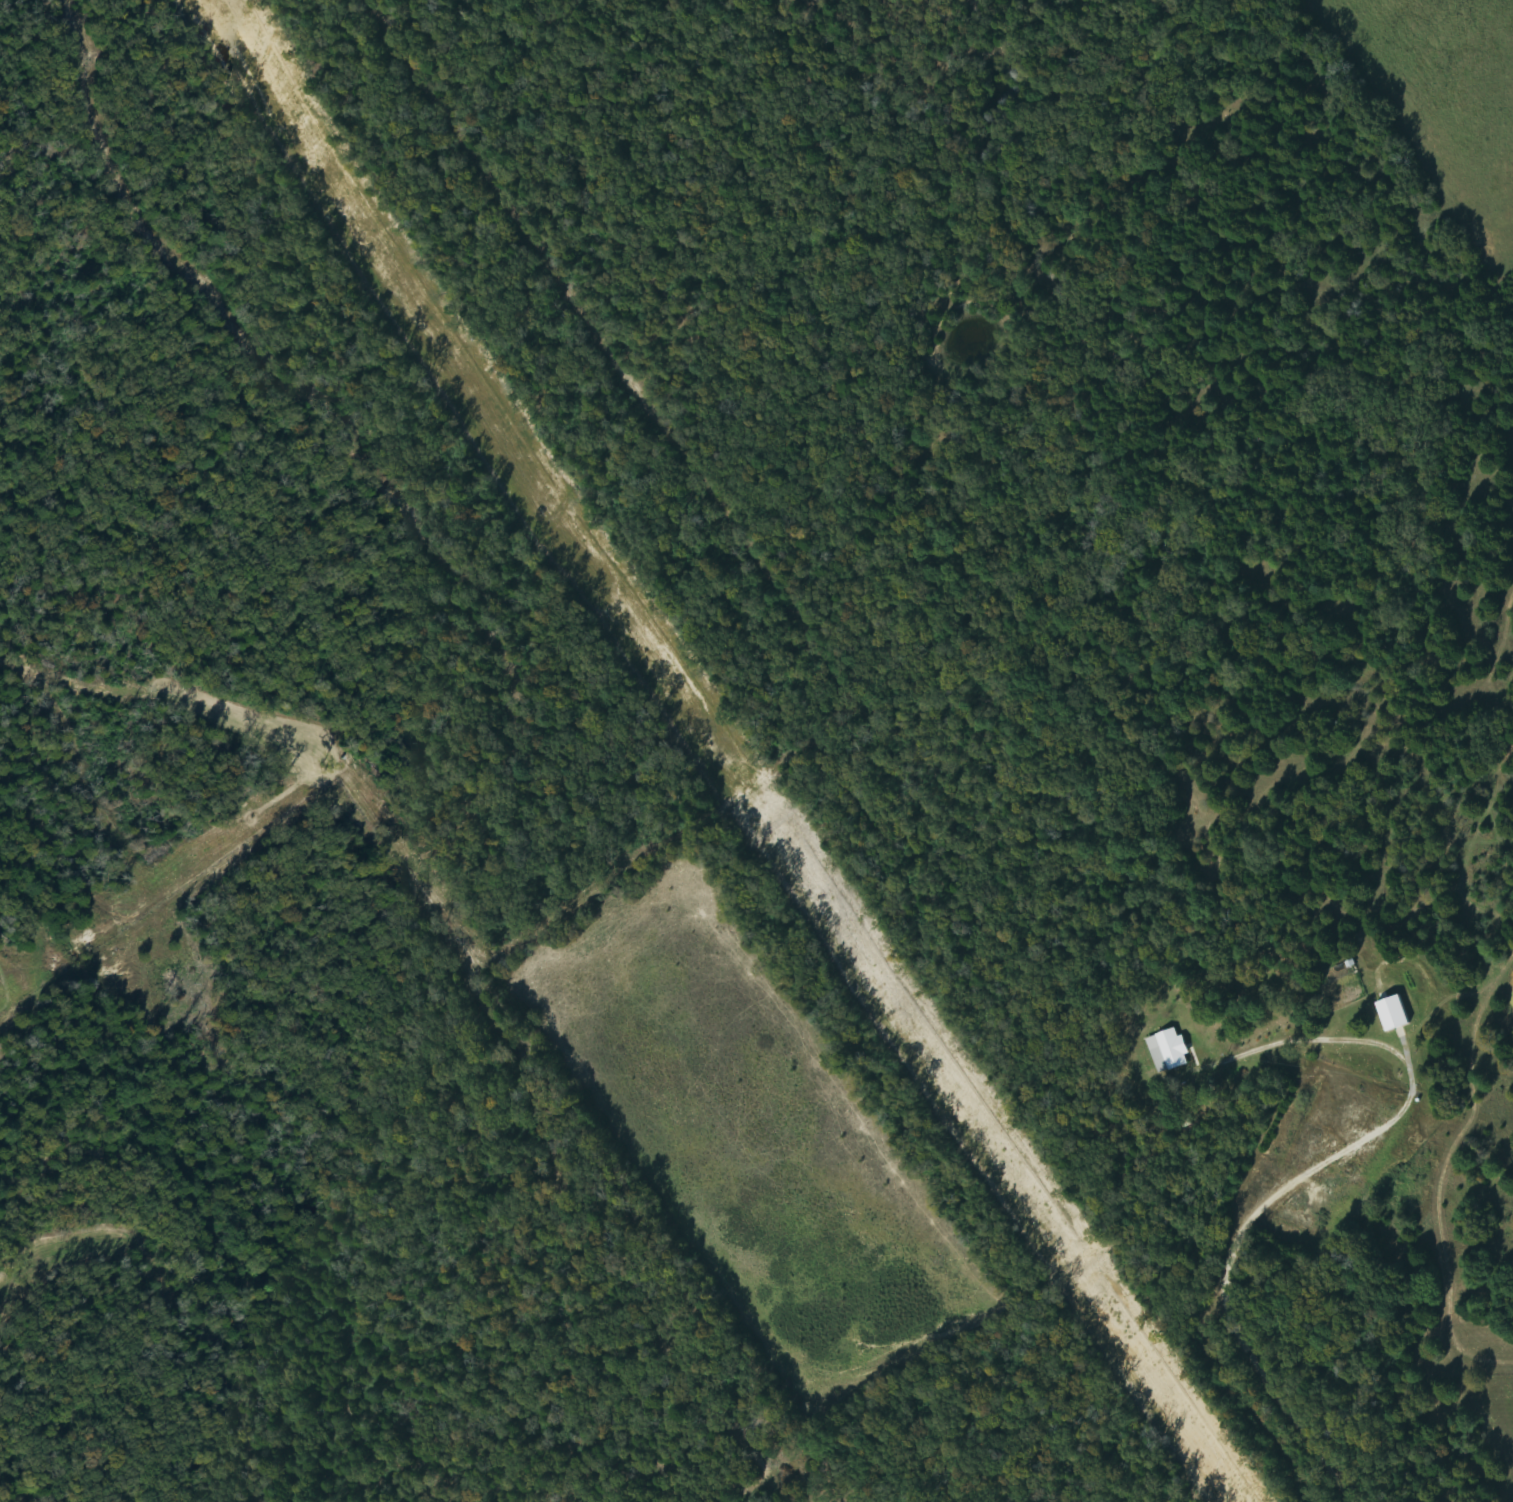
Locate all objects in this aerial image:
building: (1397, 1014)
building: (1171, 1051)

